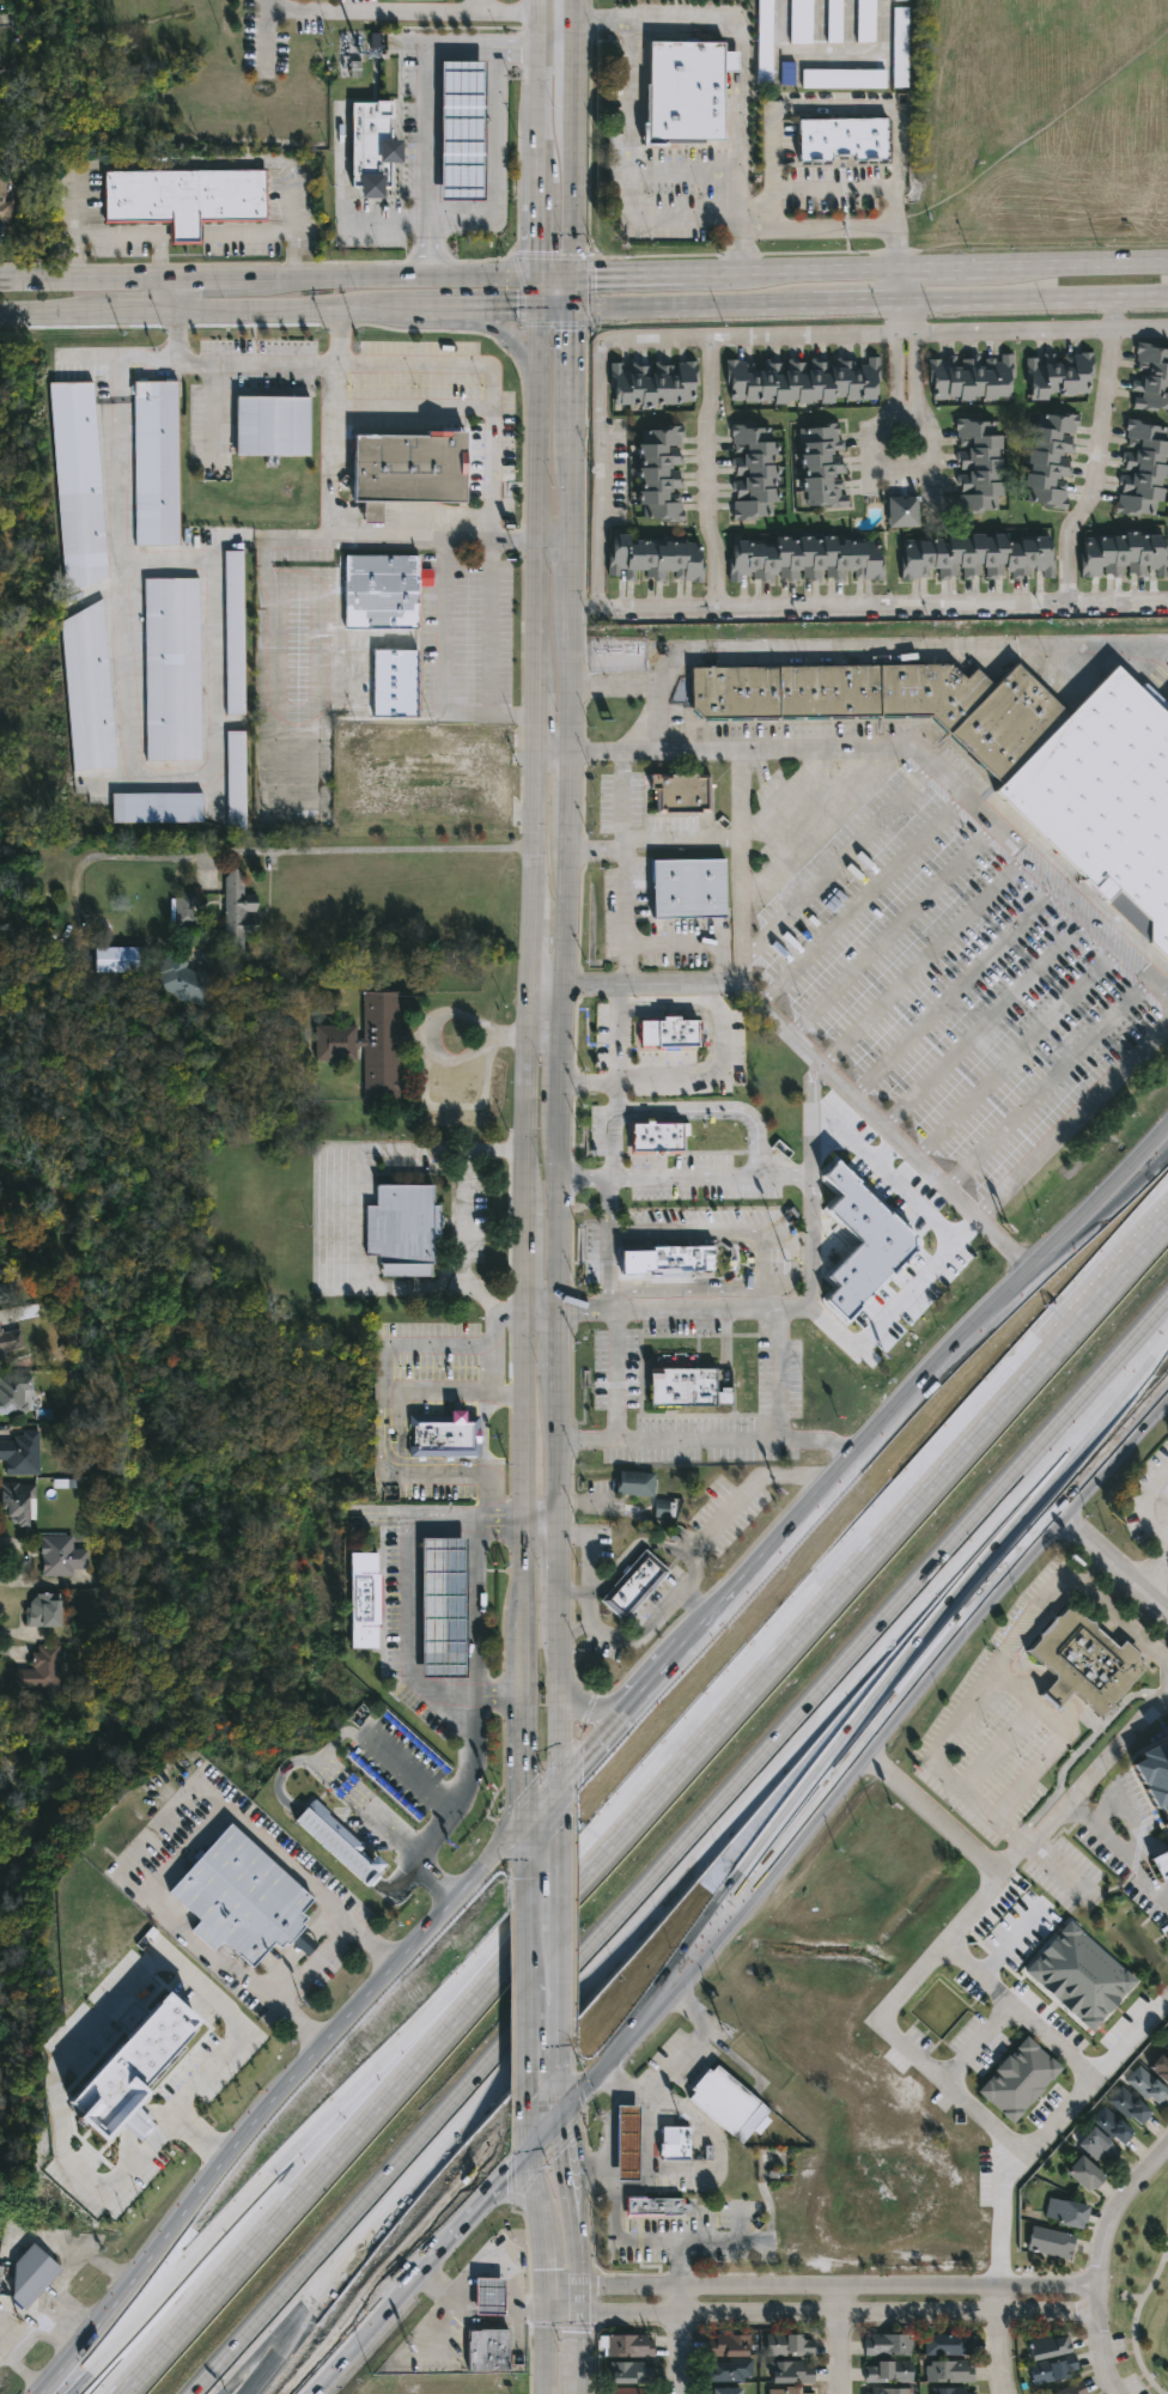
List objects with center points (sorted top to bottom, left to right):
building: (900, 0)
road: (370, 10)
road: (541, 11)
road: (571, 11)
road: (505, 17)
building: (866, 20)
road: (555, 22)
building: (801, 22)
building: (834, 22)
road: (270, 37)
building: (765, 42)
road: (831, 51)
road: (740, 62)
building: (900, 66)
road: (571, 67)
road: (539, 75)
building: (844, 79)
building: (687, 93)
road: (424, 107)
road: (840, 108)
building: (462, 128)
gas station: (462, 128)
building: (841, 139)
building: (371, 146)
road: (537, 156)
road: (177, 159)
road: (497, 166)
parking lot: (656, 166)
road: (570, 193)
building: (184, 198)
building: (2, 205)
road: (682, 221)
road: (388, 225)
road: (536, 227)
road: (135, 237)
traffic signals: (536, 253)
road: (1083, 261)
road: (949, 266)
road: (792, 269)
road: (553, 273)
traffic signals: (597, 273)
road: (627, 273)
road: (404, 274)
road: (224, 277)
road: (87, 278)
road: (899, 282)
road: (570, 288)
road: (536, 290)
road: (175, 293)
road: (1034, 296)
road: (856, 299)
road: (691, 303)
road: (553, 305)
road: (472, 306)
traffic signals: (517, 306)
road: (292, 309)
road: (136, 310)
road: (48, 311)
traffic signals: (570, 332)
road: (750, 336)
road: (504, 339)
road: (896, 354)
road: (915, 354)
road: (257, 364)
road: (570, 364)
building: (1057, 373)
building: (968, 376)
building: (1150, 377)
building: (799, 379)
building: (655, 382)
building: (273, 426)
road: (927, 435)
road: (337, 451)
road: (1102, 451)
building: (1048, 457)
building: (156, 463)
building: (819, 464)
building: (977, 464)
building: (402, 468)
building: (1140, 468)
building: (658, 472)
road: (706, 472)
building: (750, 472)
road: (568, 481)
building: (78, 484)
road: (536, 496)
building: (900, 510)
road: (495, 531)
road: (516, 539)
road: (552, 539)
road: (347, 540)
building: (1121, 554)
building: (975, 555)
building: (653, 558)
building: (802, 558)
road: (567, 585)
building: (379, 590)
road: (866, 604)
building: (235, 633)
road: (856, 645)
building: (172, 669)
building: (394, 682)
building: (89, 691)
road: (566, 692)
building: (890, 700)
road: (644, 713)
road: (535, 718)
road: (127, 727)
road: (550, 752)
building: (236, 779)
building: (397, 792)
building: (681, 792)
road: (743, 795)
road: (565, 796)
building: (1105, 798)
road: (625, 800)
building: (157, 808)
road: (981, 808)
road: (531, 826)
road: (370, 850)
road: (839, 862)
building: (686, 888)
road: (626, 898)
road: (863, 898)
building: (238, 910)
building: (183, 911)
road: (560, 913)
road: (893, 929)
road: (528, 942)
road: (673, 946)
building: (116, 960)
road: (925, 960)
road: (737, 966)
building: (183, 982)
road: (602, 983)
road: (542, 985)
road: (956, 991)
road: (764, 1007)
road: (428, 1020)
road: (987, 1022)
building: (668, 1035)
road: (710, 1037)
road: (618, 1039)
building: (369, 1045)
road: (558, 1050)
road: (1018, 1053)
road: (723, 1076)
road: (586, 1077)
road: (1048, 1082)
road: (615, 1088)
road: (525, 1094)
road: (717, 1106)
road: (1073, 1117)
road: (815, 1128)
building: (657, 1132)
road: (614, 1144)
road: (495, 1152)
road: (847, 1162)
road: (926, 1167)
road: (1142, 1173)
road: (1142, 1177)
road: (705, 1180)
road: (345, 1181)
road: (609, 1181)
road: (556, 1211)
road: (859, 1226)
building: (400, 1228)
building: (862, 1244)
building: (671, 1246)
road: (810, 1250)
road: (888, 1256)
road: (525, 1258)
road: (793, 1259)
road: (607, 1270)
road: (919, 1286)
building: (7, 1295)
road: (541, 1310)
road: (820, 1313)
building: (11, 1344)
road: (556, 1344)
road: (420, 1345)
road: (495, 1348)
road: (621, 1369)
building: (689, 1372)
road: (775, 1373)
road: (524, 1378)
building: (13, 1393)
road: (895, 1416)
road: (397, 1428)
building: (440, 1435)
road: (821, 1442)
road: (558, 1452)
building: (20, 1454)
building: (643, 1469)
building: (635, 1484)
road: (523, 1487)
building: (18, 1505)
road: (1144, 1509)
road: (503, 1523)
road: (540, 1525)
road: (696, 1543)
road: (869, 1551)
building: (61, 1556)
road: (409, 1567)
road: (523, 1572)
road: (558, 1574)
road: (1113, 1574)
road: (1152, 1578)
building: (632, 1585)
road: (682, 1587)
building: (361, 1599)
building: (440, 1606)
gas station: (440, 1606)
building: (43, 1610)
road: (906, 1614)
road: (574, 1630)
road: (929, 1635)
road: (628, 1642)
road: (522, 1655)
building: (1083, 1664)
road: (1000, 1670)
building: (42, 1671)
road: (663, 1675)
road: (935, 1679)
road: (495, 1693)
road: (558, 1702)
road: (597, 1708)
road: (598, 1743)
road: (335, 1744)
road: (522, 1758)
road: (309, 1761)
traffic signals: (579, 1761)
building: (1155, 1780)
road: (281, 1785)
road: (426, 1790)
traffic signals: (522, 1791)
road: (539, 1803)
road: (555, 1806)
road: (369, 1815)
traffic signals: (555, 1830)
building: (336, 1841)
road: (269, 1843)
road: (1029, 1843)
road: (336, 1845)
road: (521, 1848)
road: (1118, 1851)
building: (1160, 1863)
road: (399, 1885)
road: (434, 1888)
road: (555, 1888)
building: (237, 1898)
road: (521, 1930)
road: (203, 1936)
road: (373, 1948)
road: (576, 1975)
building: (1079, 1976)
road: (127, 1994)
road: (273, 1994)
road: (555, 2003)
road: (1017, 2010)
road: (881, 2021)
road: (635, 2037)
building: (1166, 2037)
road: (521, 2044)
building: (1167, 2044)
building: (1167, 2048)
building: (1160, 2064)
road: (674, 2067)
building: (133, 2071)
building: (1018, 2079)
building: (1148, 2085)
road: (560, 2089)
road: (275, 2104)
building: (729, 2104)
building: (1130, 2104)
traffic signals: (522, 2109)
road: (1046, 2123)
building: (1113, 2125)
road: (524, 2129)
road: (312, 2131)
road: (547, 2138)
road: (348, 2139)
building: (628, 2143)
traffic signals: (568, 2144)
building: (676, 2144)
building: (1097, 2145)
road: (704, 2171)
building: (1087, 2173)
traffic signals: (504, 2183)
road: (635, 2189)
road: (536, 2198)
road: (573, 2199)
building: (655, 2208)
road: (474, 2212)
building: (1066, 2212)
road: (357, 2219)
road: (384, 2224)
road: (616, 2240)
road: (723, 2241)
building: (1051, 2242)
building: (36, 2260)
road: (1101, 2265)
road: (493, 2268)
traffic signals: (546, 2272)
road: (546, 2274)
traffic signals: (597, 2283)
road: (838, 2283)
road: (562, 2284)
park: (1140, 2293)
building: (487, 2297)
gas station: (487, 2297)
road: (578, 2298)
traffic signals: (524, 2311)
road: (562, 2313)
road: (838, 2314)
road: (437, 2317)
road: (371, 2331)
traffic signals: (578, 2333)
road: (682, 2338)
road: (839, 2339)
road: (1000, 2340)
building: (789, 2344)
building: (887, 2344)
building: (948, 2344)
building: (629, 2345)
building: (726, 2345)
building: (1050, 2347)
road: (578, 2350)
building: (486, 2351)
road: (547, 2353)
building: (1054, 2369)
building: (729, 2370)
building: (950, 2370)
building: (629, 2371)
building: (791, 2371)
building: (888, 2371)
building: (888, 2389)
building: (1073, 2389)
road: (579, 2390)
building: (631, 2390)
building: (724, 2390)
building: (787, 2390)
building: (953, 2390)

